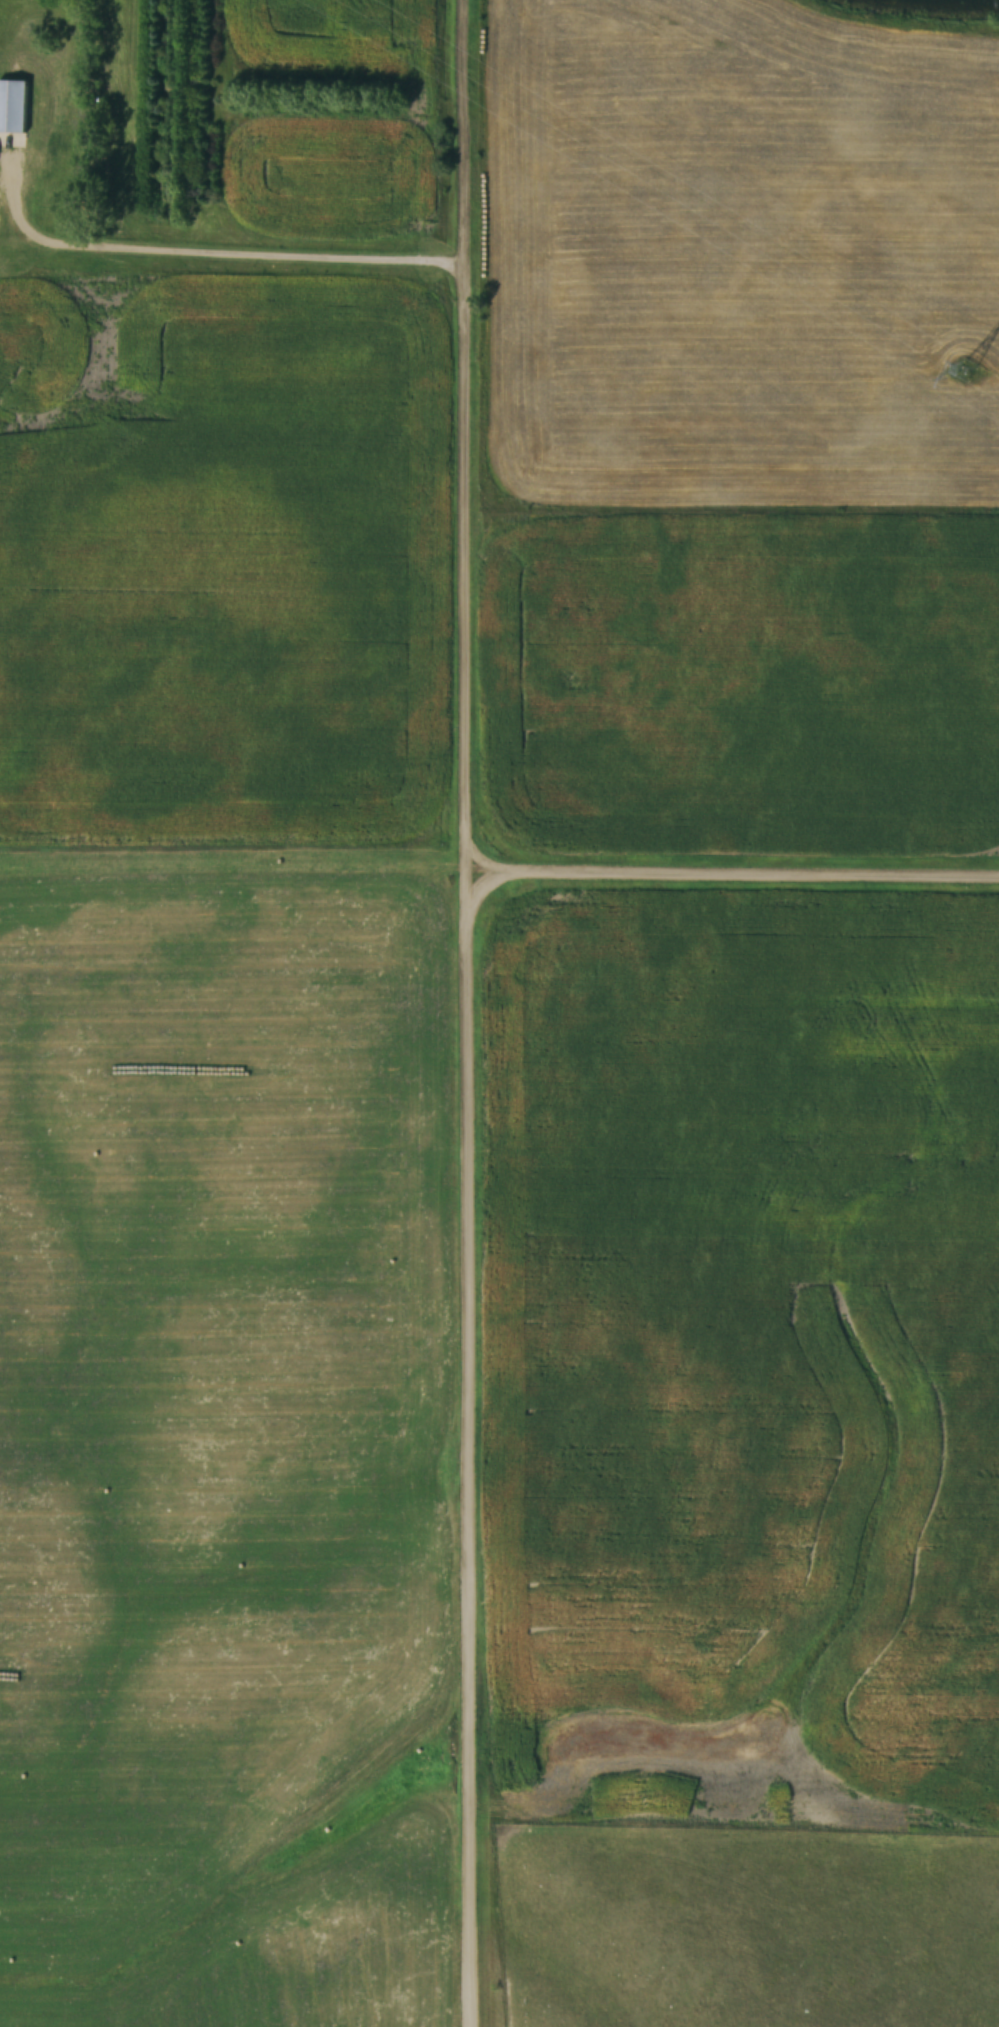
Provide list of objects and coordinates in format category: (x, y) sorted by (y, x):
building: (12, 105)
power tower: (979, 357)
road: (733, 871)
road: (468, 1013)

